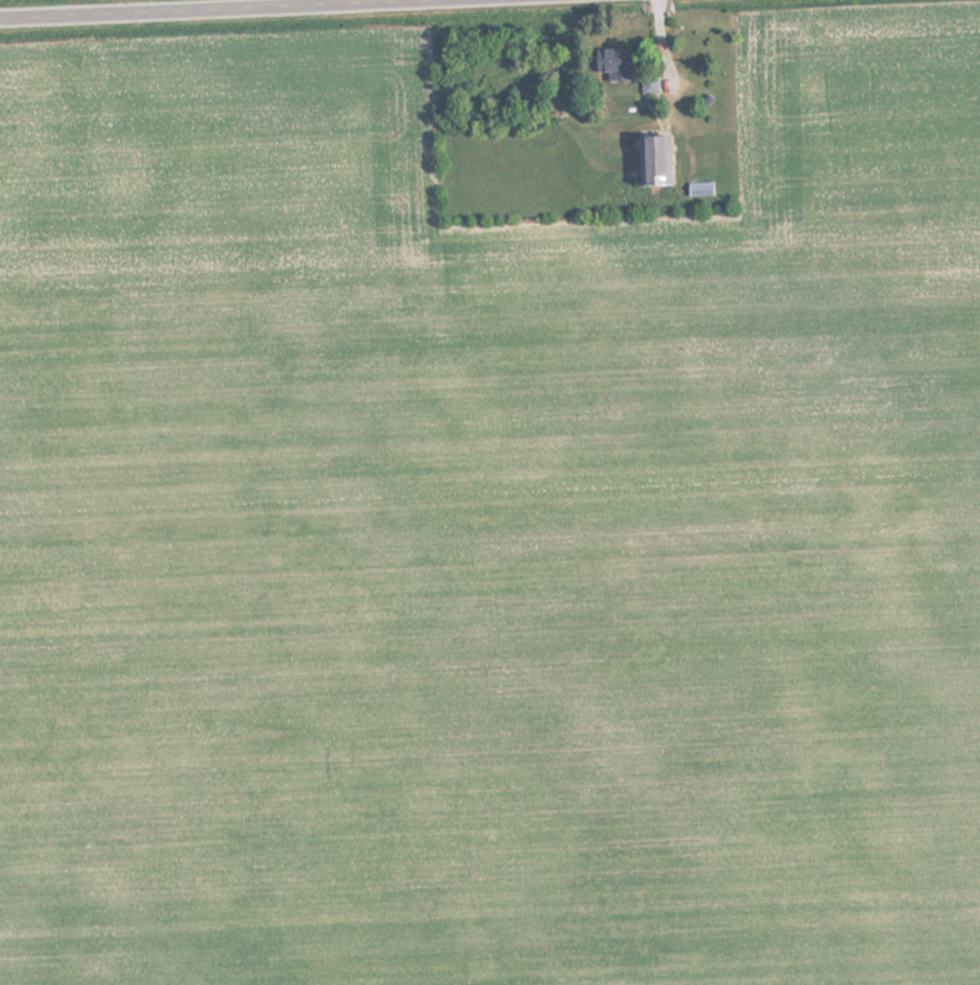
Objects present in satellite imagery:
road: (200, 8)
building: (608, 59)
building: (650, 158)
building: (698, 188)

